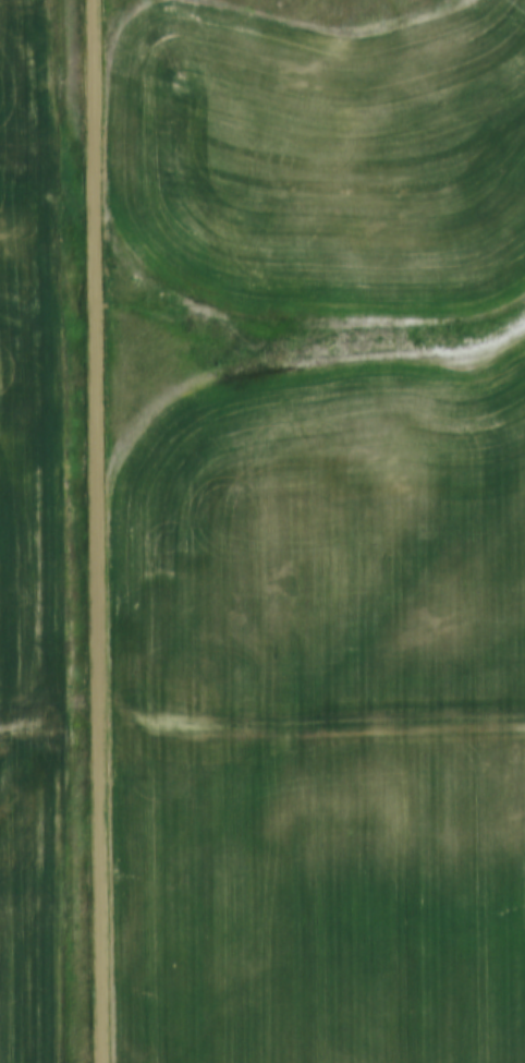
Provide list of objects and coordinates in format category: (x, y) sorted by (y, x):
road: (99, 531)

